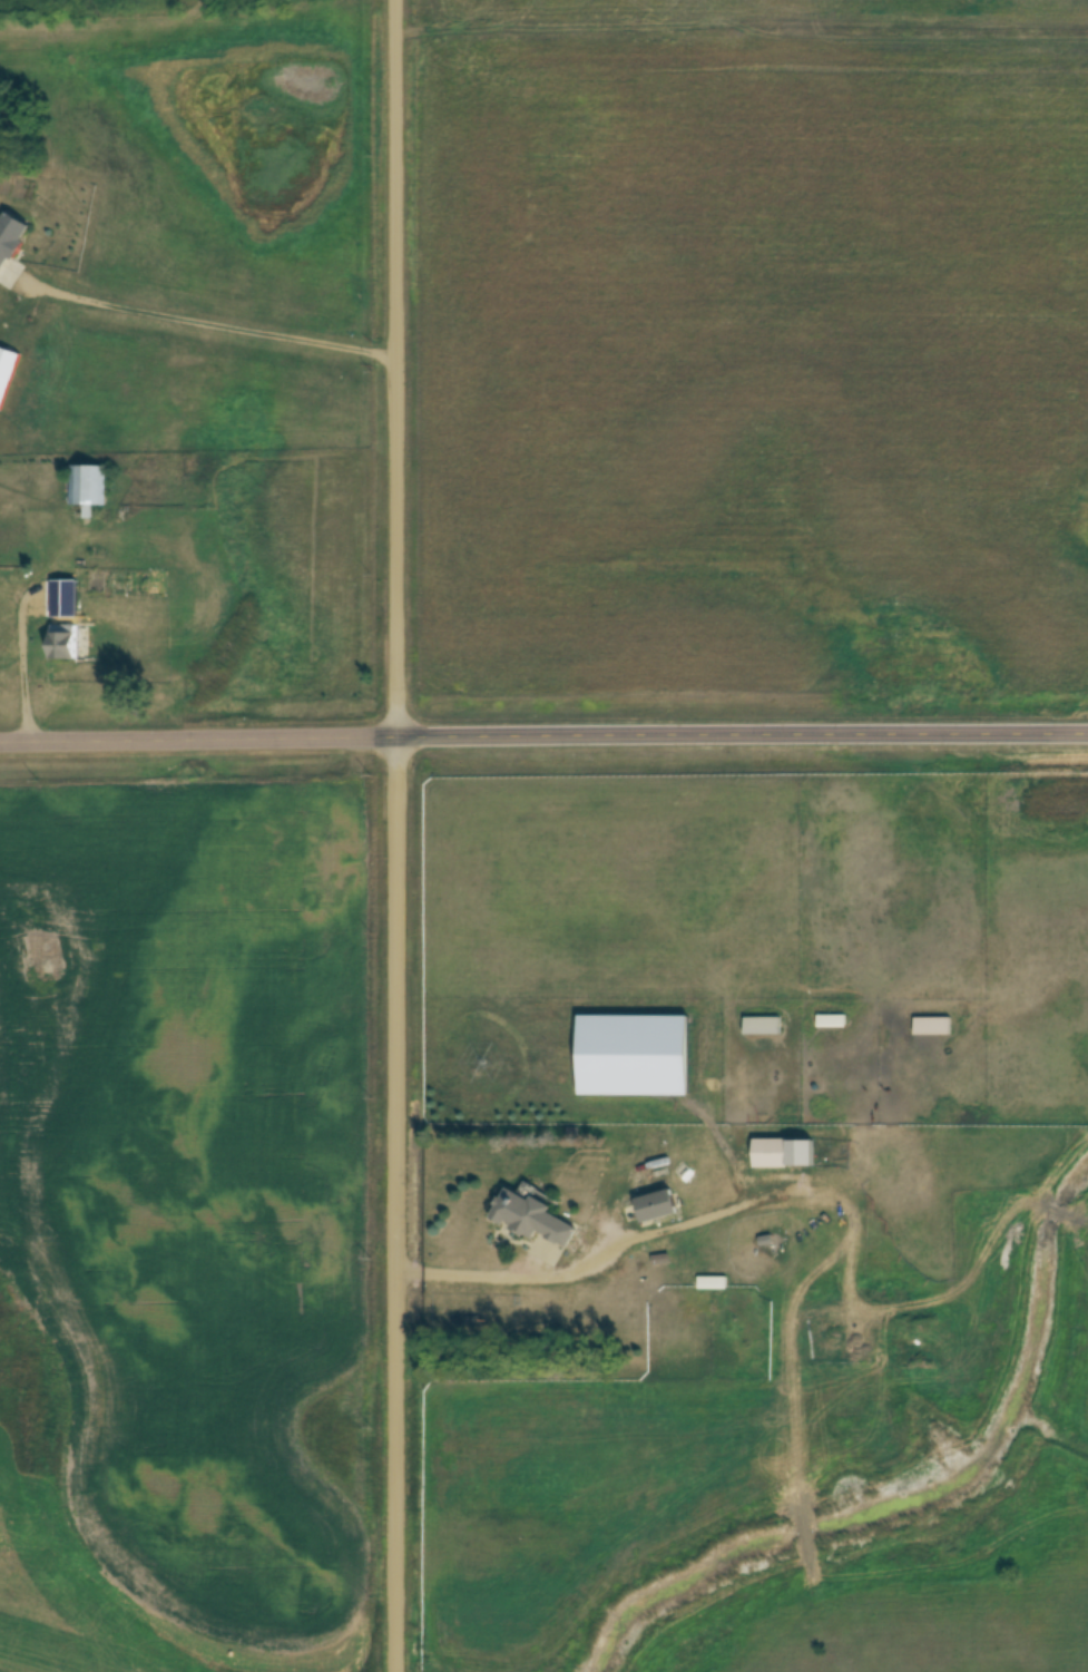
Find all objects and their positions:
road: (744, 29)
building: (10, 238)
road: (222, 325)
building: (87, 487)
building: (95, 585)
building: (63, 643)
road: (19, 659)
road: (742, 735)
road: (197, 740)
road: (396, 835)
building: (831, 1020)
building: (762, 1025)
building: (932, 1025)
building: (783, 1152)
building: (657, 1205)
road: (506, 1271)
building: (712, 1283)

